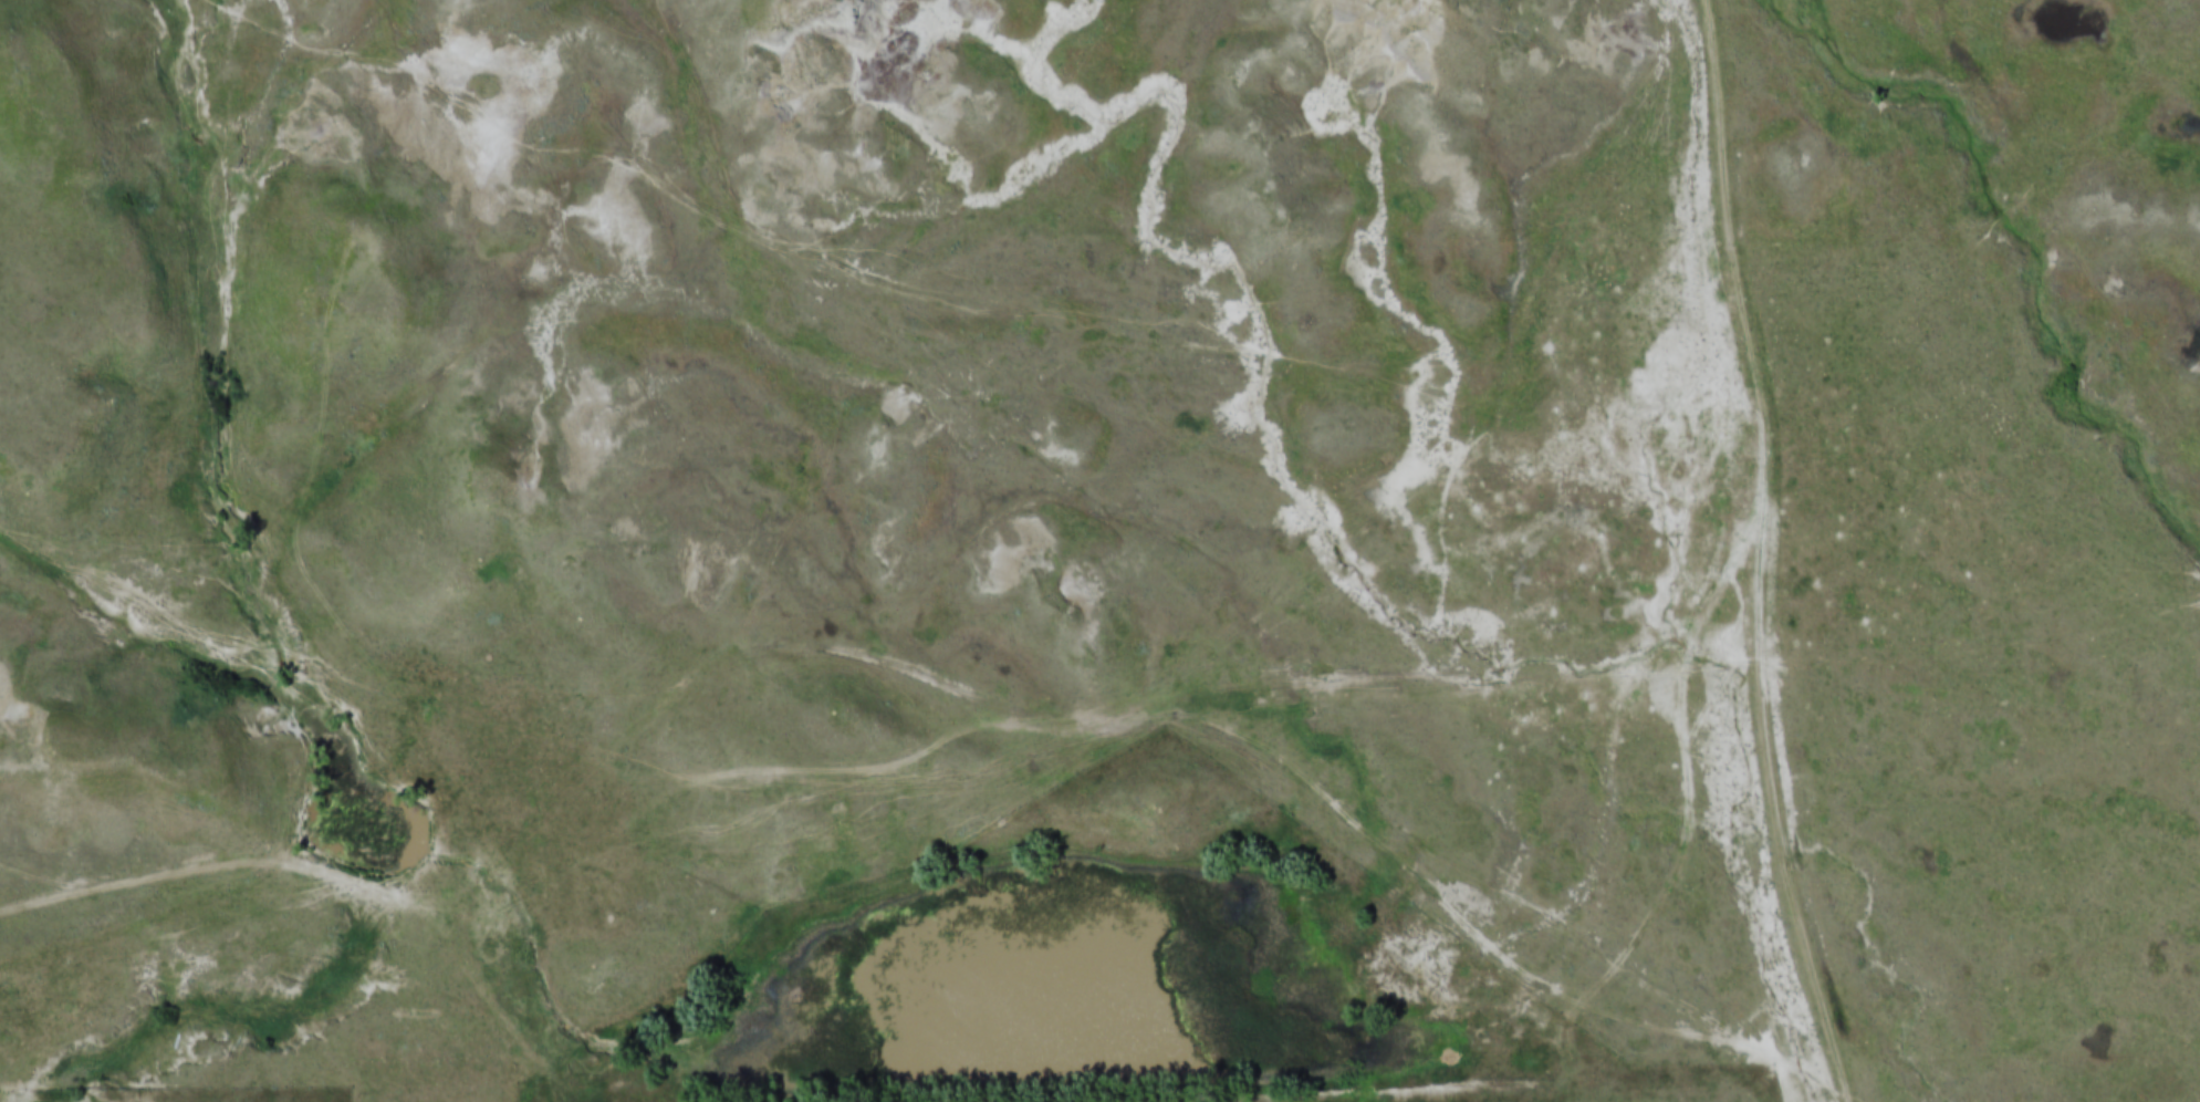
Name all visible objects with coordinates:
road: (1769, 553)
road: (329, 870)
dam: (342, 873)

